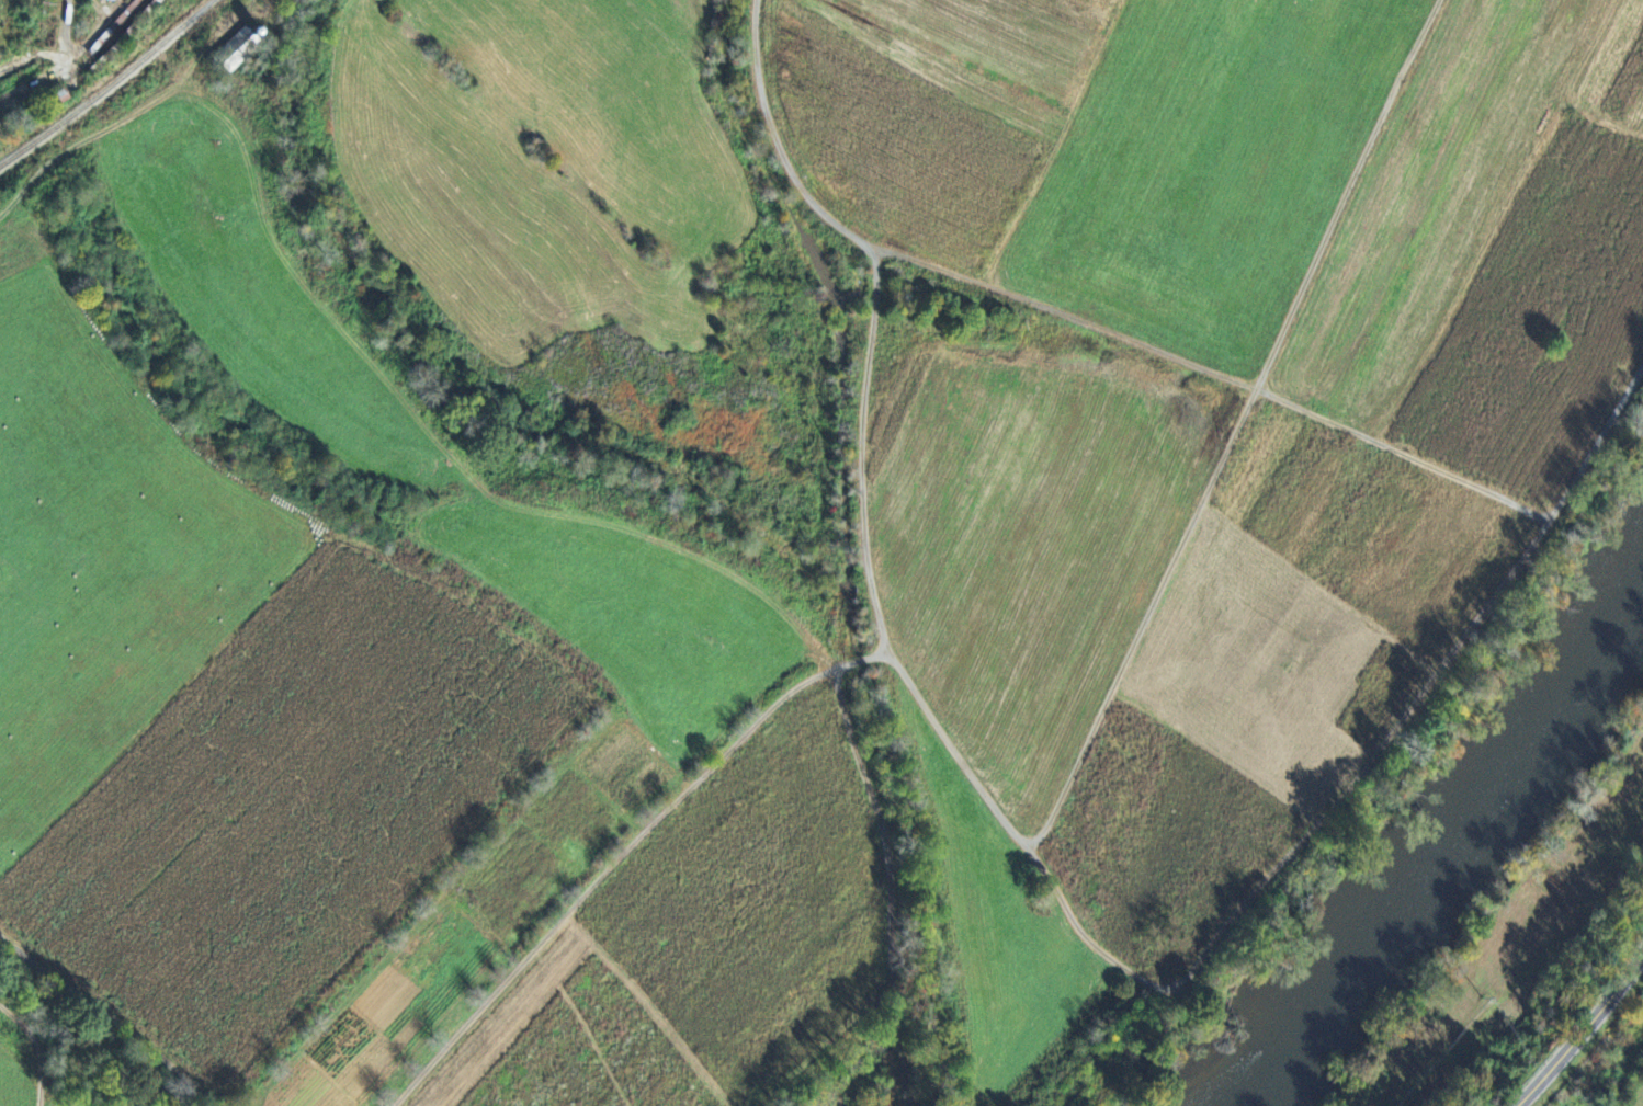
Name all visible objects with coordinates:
building: (110, 0)
railway: (110, 84)
river: (1452, 845)
road: (1583, 1033)

